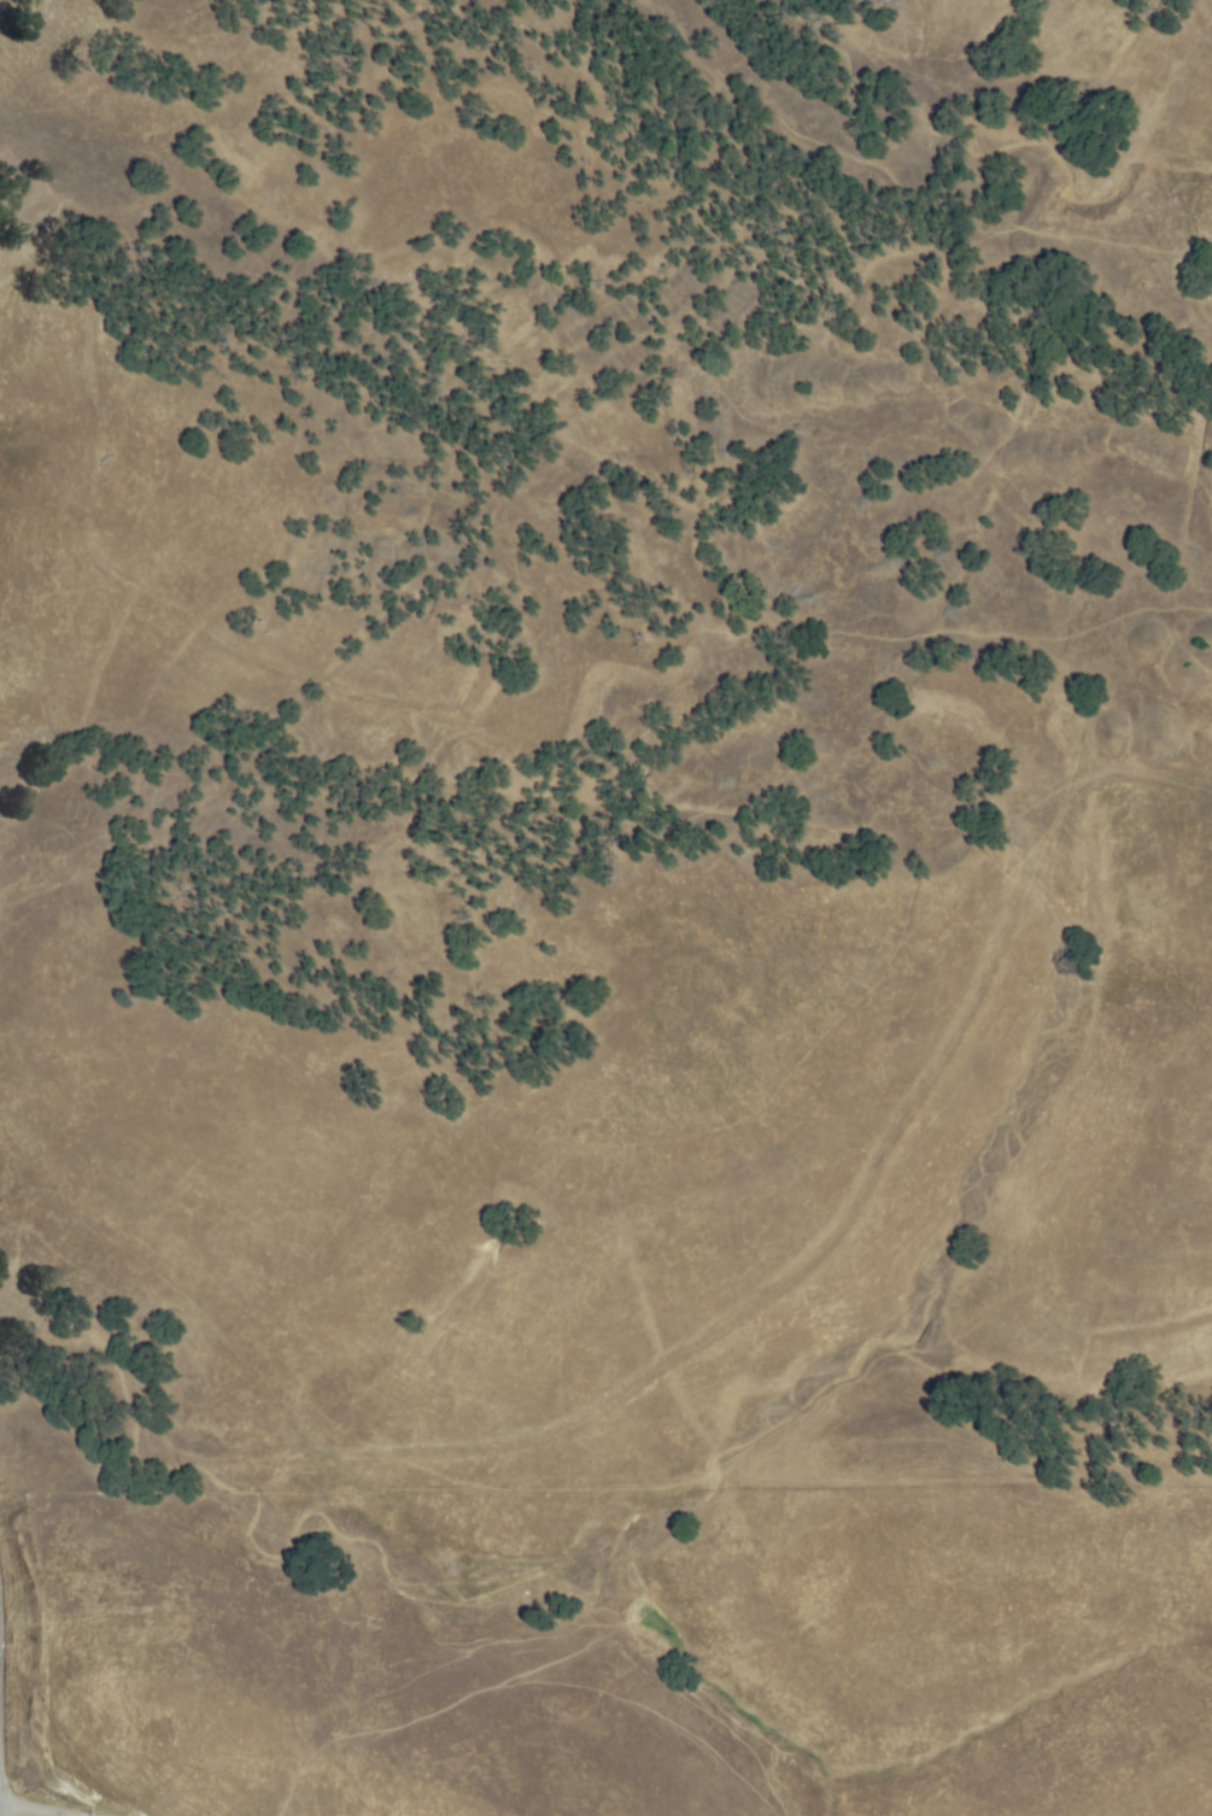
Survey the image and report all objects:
road: (31, 1809)

